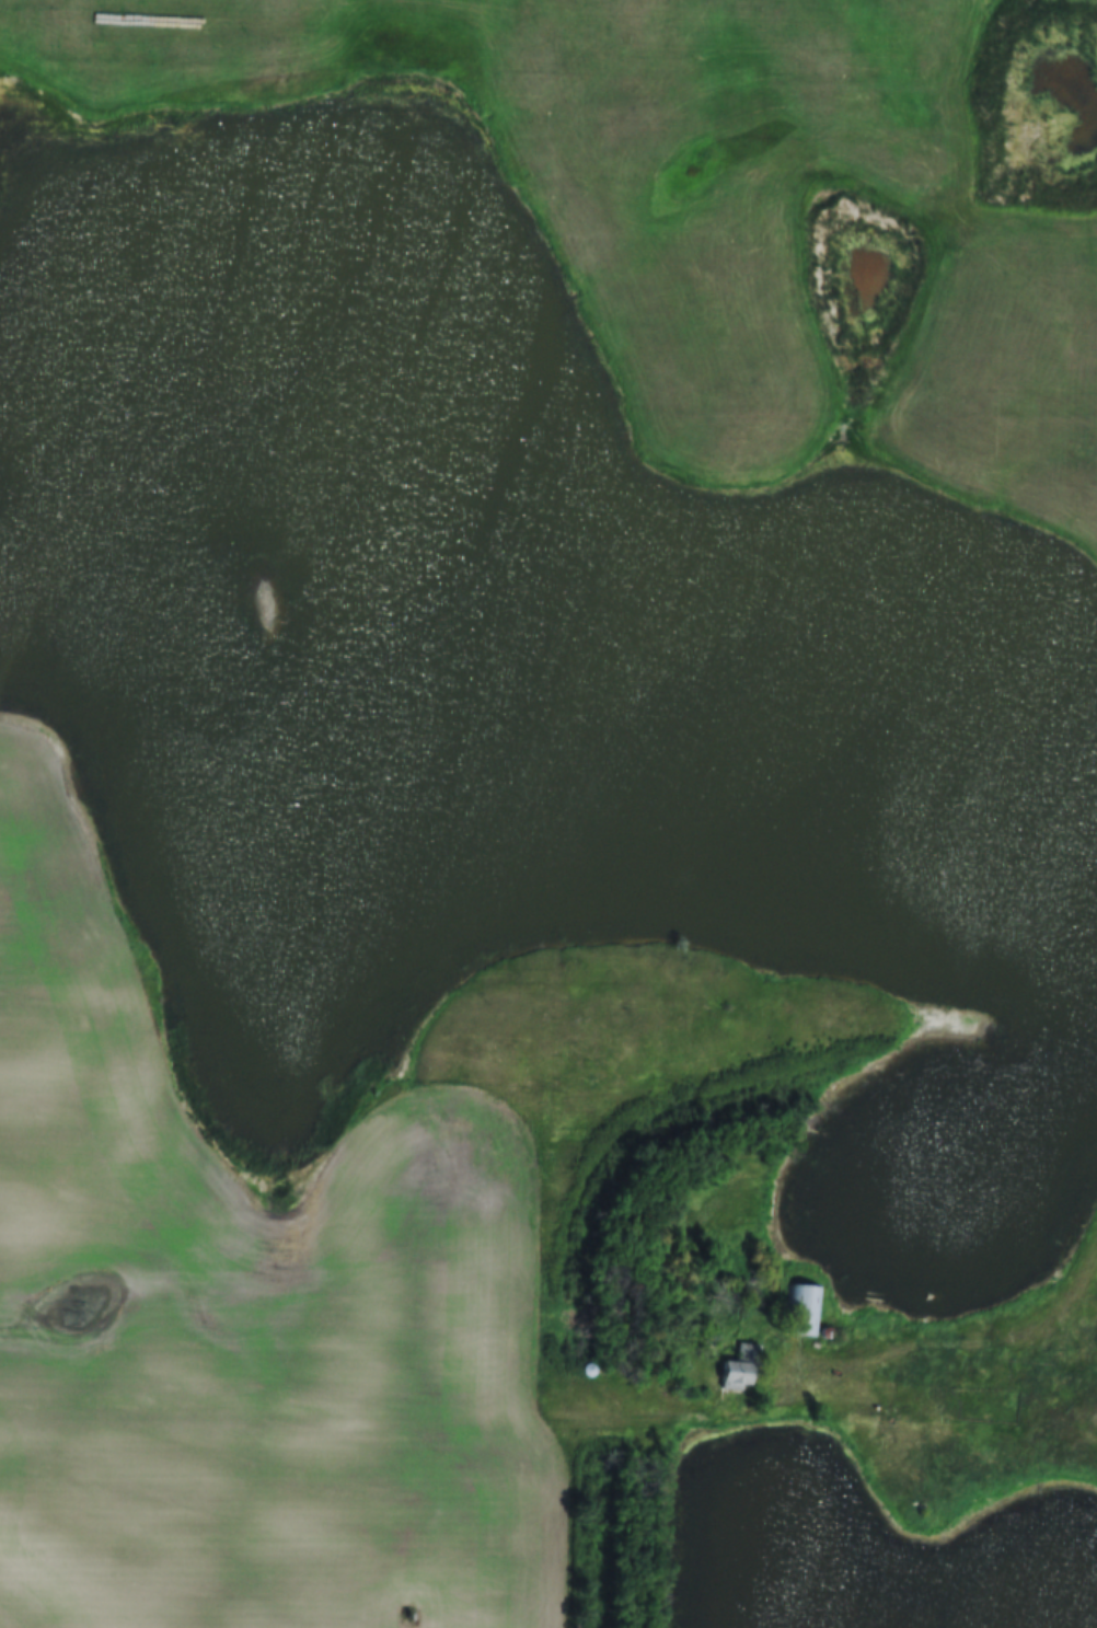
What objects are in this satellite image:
building: (800, 1311)
building: (823, 1333)
silo: (823, 1333)
building: (739, 1367)
road: (575, 1418)

